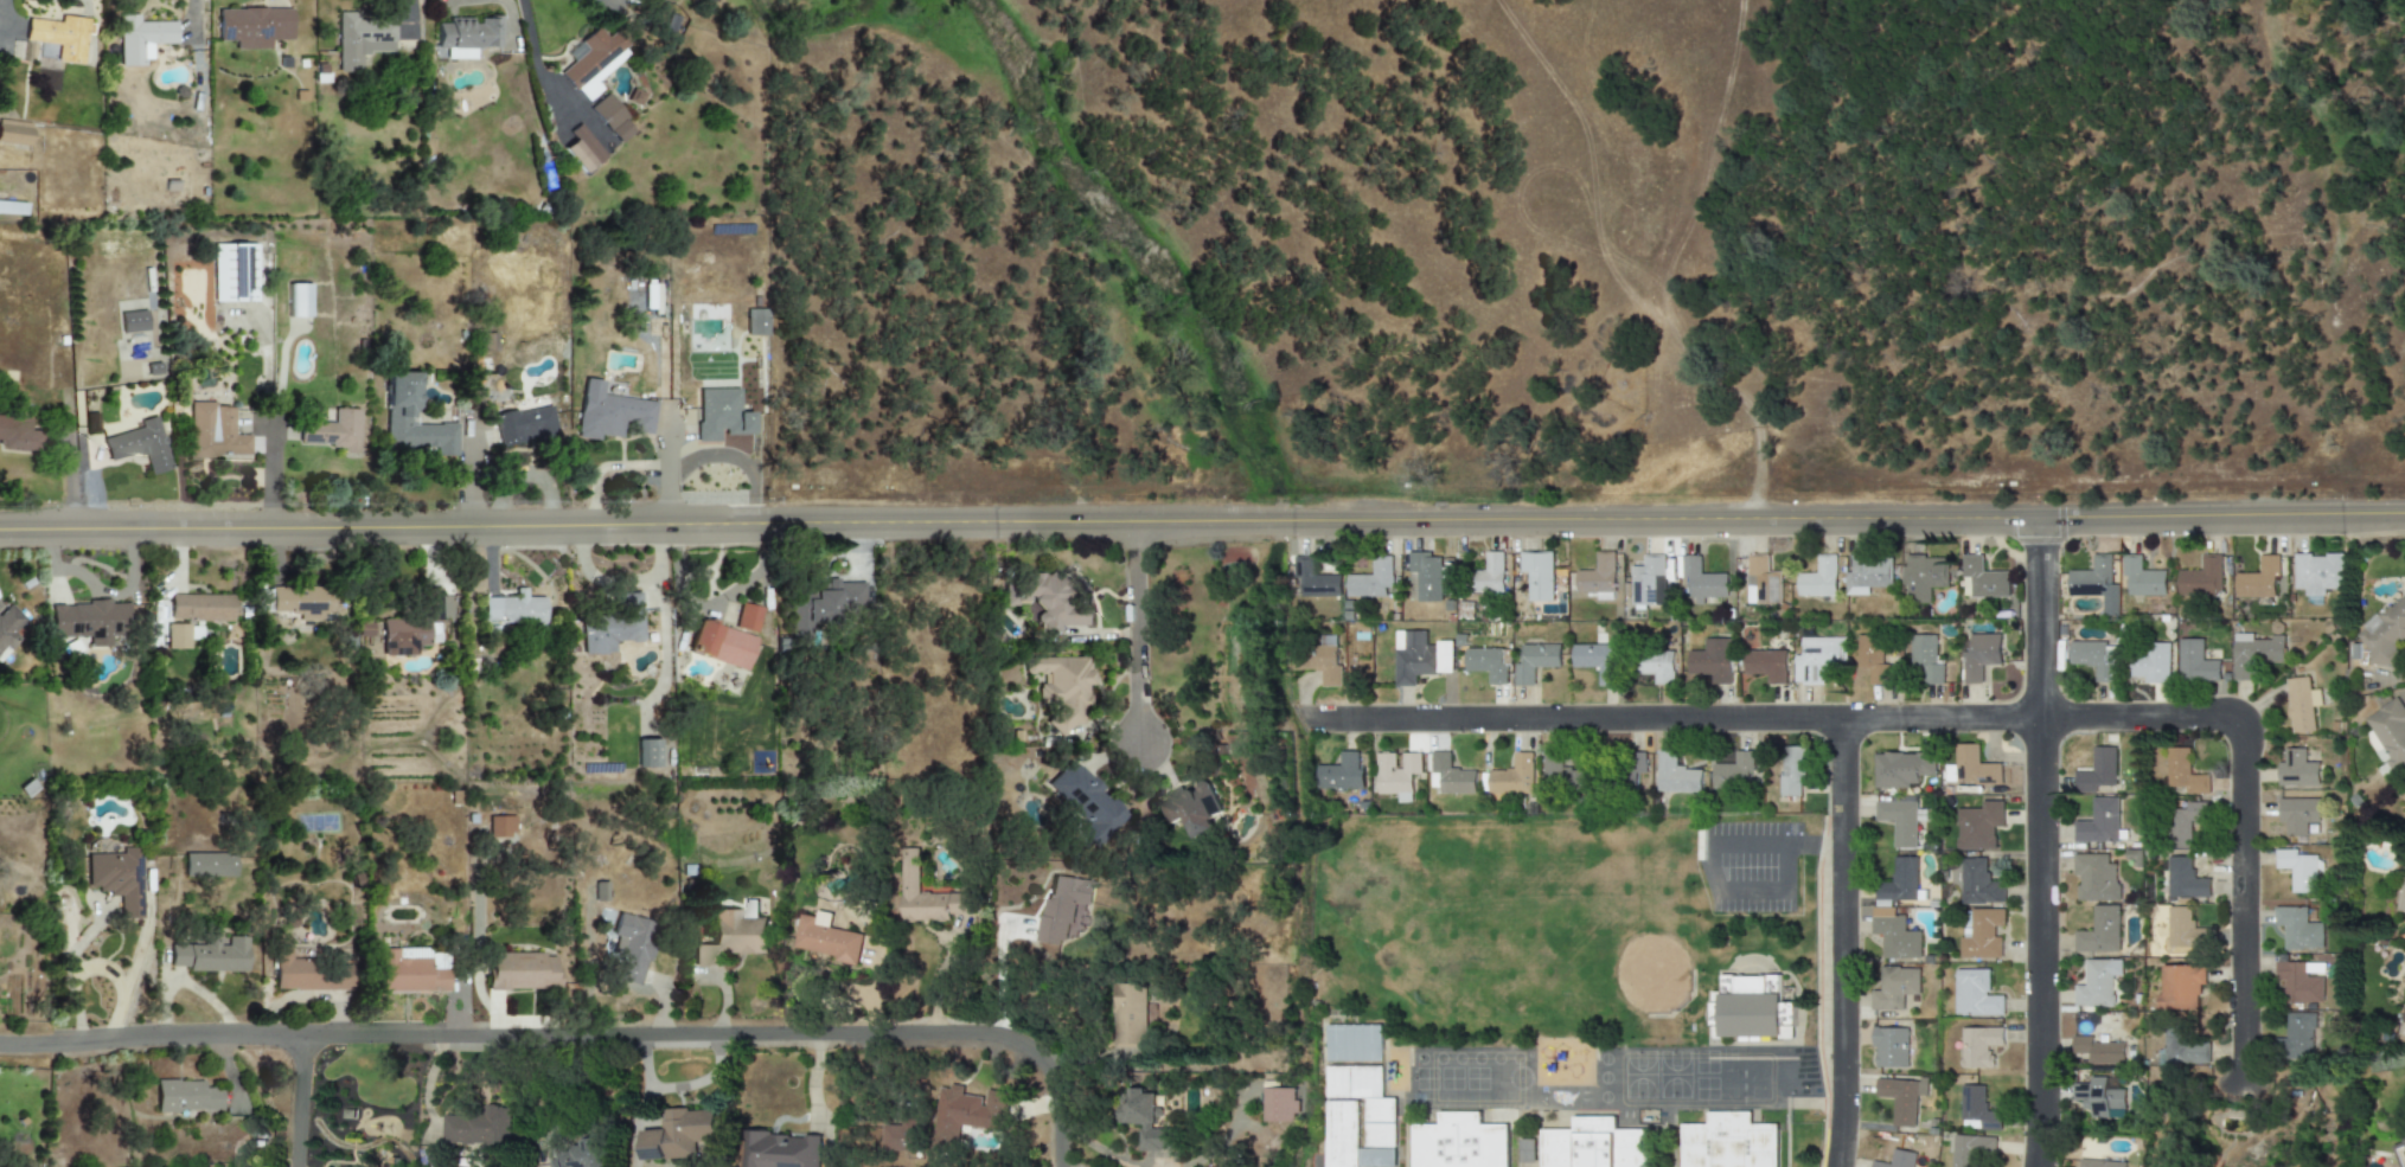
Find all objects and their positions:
building: (252, 27)
building: (58, 38)
building: (140, 38)
building: (465, 38)
building: (360, 39)
road: (533, 58)
building: (593, 63)
building: (609, 118)
building: (14, 133)
building: (581, 149)
building: (12, 209)
building: (232, 272)
building: (298, 301)
building: (132, 322)
building: (755, 322)
building: (719, 415)
building: (396, 417)
building: (612, 417)
building: (89, 423)
road: (273, 423)
building: (523, 427)
building: (331, 429)
building: (212, 432)
building: (17, 435)
building: (139, 445)
road: (669, 466)
road: (1202, 522)
building: (2316, 573)
building: (1488, 575)
building: (1537, 575)
building: (1867, 575)
building: (1422, 577)
building: (1598, 577)
building: (1923, 577)
building: (2091, 577)
building: (1817, 578)
building: (2142, 578)
building: (2200, 578)
building: (1315, 579)
building: (1700, 579)
building: (1982, 579)
building: (2257, 579)
building: (1370, 581)
building: (1646, 582)
building: (1761, 582)
building: (301, 602)
building: (1045, 602)
road: (710, 603)
building: (199, 607)
building: (511, 609)
building: (628, 616)
building: (746, 617)
building: (88, 621)
building: (416, 624)
building: (9, 627)
building: (593, 634)
building: (2384, 634)
road: (1134, 635)
building: (174, 636)
building: (719, 645)
building: (2253, 654)
building: (1979, 655)
building: (1419, 656)
building: (1870, 658)
building: (1817, 659)
building: (1925, 659)
building: (2093, 659)
building: (1710, 660)
building: (1318, 661)
building: (1535, 661)
building: (1595, 661)
building: (2149, 662)
building: (2194, 662)
building: (1486, 663)
building: (1765, 665)
building: (1656, 666)
building: (1061, 688)
building: (2301, 705)
road: (1942, 720)
building: (2387, 735)
building: (646, 754)
building: (1901, 768)
building: (1971, 768)
building: (1633, 769)
building: (1792, 769)
building: (2297, 769)
building: (1736, 771)
building: (2097, 771)
building: (1560, 772)
building: (2183, 772)
building: (1339, 774)
building: (1396, 775)
building: (1448, 775)
building: (1674, 775)
building: (1512, 776)
building: (1083, 802)
building: (1191, 808)
building: (2297, 814)
building: (1898, 821)
building: (2098, 822)
building: (2185, 822)
building: (1978, 826)
building: (499, 827)
road: (2040, 842)
road: (1768, 844)
building: (207, 865)
building: (2297, 870)
building: (116, 878)
building: (2094, 878)
building: (2183, 879)
building: (1897, 883)
building: (1977, 883)
building: (599, 891)
road: (1746, 892)
building: (926, 895)
building: (1061, 906)
building: (2179, 926)
building: (2297, 928)
building: (2099, 931)
building: (1979, 932)
building: (1894, 935)
building: (730, 937)
building: (826, 938)
road: (1838, 943)
building: (629, 945)
building: (207, 955)
building: (410, 970)
building: (518, 970)
building: (306, 974)
road: (999, 974)
road: (69, 975)
road: (114, 983)
building: (2097, 983)
building: (2297, 983)
building: (2180, 986)
building: (1894, 988)
building: (1975, 994)
building: (1751, 1011)
building: (1128, 1015)
road: (664, 1034)
road: (151, 1035)
building: (2295, 1038)
building: (1351, 1044)
building: (1978, 1046)
building: (1889, 1047)
building: (2186, 1049)
building: (2097, 1050)
road: (641, 1060)
road: (697, 1079)
building: (1350, 1083)
building: (185, 1096)
building: (2097, 1096)
building: (1900, 1099)
building: (1278, 1105)
building: (1975, 1109)
building: (968, 1111)
building: (1144, 1121)
road: (633, 1124)
building: (1377, 1124)
building: (478, 1129)
building: (678, 1134)
building: (1337, 1135)
building: (900, 1136)
building: (1458, 1142)
building: (1726, 1142)
building: (1591, 1144)
building: (780, 1149)
building: (1969, 1149)
building: (2399, 1153)
building: (582, 1154)
building: (1375, 1159)
building: (1897, 1160)
building: (2098, 1163)
road: (1060, 1166)

